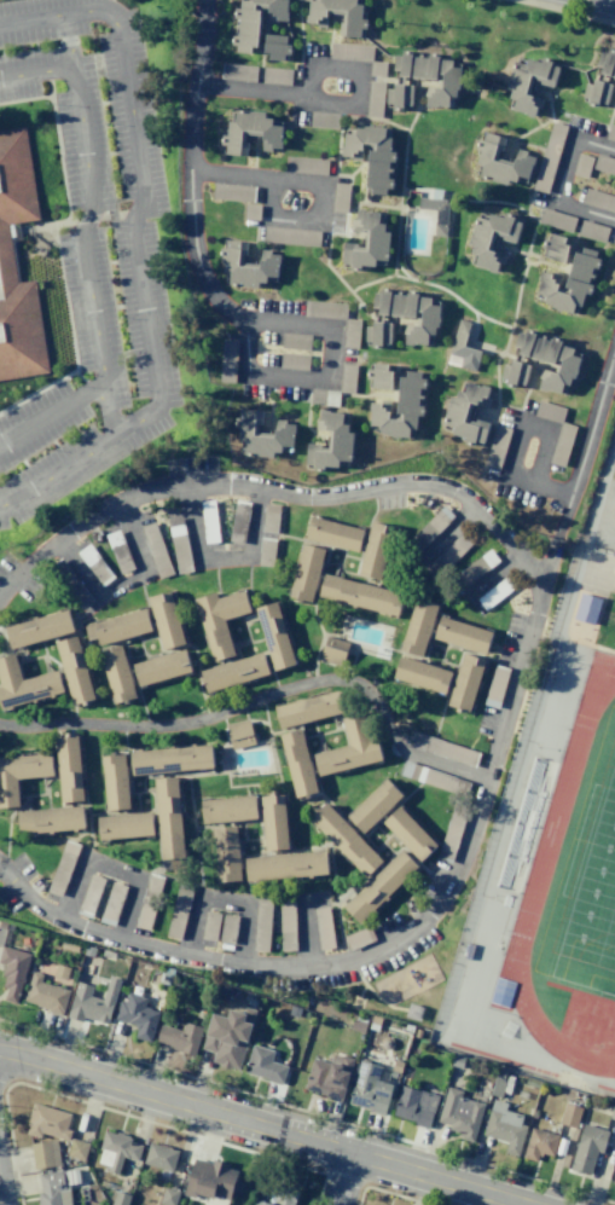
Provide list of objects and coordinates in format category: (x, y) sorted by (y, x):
building: (338, 16)
road: (592, 17)
building: (256, 21)
road: (65, 41)
road: (329, 44)
building: (278, 47)
building: (349, 52)
building: (607, 63)
road: (336, 68)
building: (376, 68)
building: (237, 73)
building: (275, 75)
road: (295, 76)
building: (433, 76)
road: (304, 79)
road: (610, 81)
road: (419, 83)
building: (530, 83)
building: (598, 93)
road: (277, 95)
building: (400, 97)
building: (373, 98)
road: (418, 109)
road: (358, 111)
building: (323, 120)
road: (382, 120)
road: (608, 123)
road: (539, 127)
building: (253, 133)
building: (610, 133)
road: (530, 145)
road: (547, 149)
building: (370, 155)
building: (547, 157)
road: (254, 160)
building: (501, 163)
building: (304, 164)
building: (604, 164)
building: (581, 166)
road: (356, 169)
road: (187, 172)
road: (255, 178)
road: (330, 180)
road: (558, 180)
building: (232, 192)
building: (340, 197)
road: (541, 198)
building: (598, 201)
road: (505, 203)
road: (371, 204)
building: (436, 213)
building: (555, 220)
road: (294, 221)
road: (325, 230)
building: (591, 231)
road: (256, 233)
building: (291, 236)
road: (532, 237)
building: (491, 239)
building: (370, 243)
road: (134, 244)
building: (557, 248)
road: (83, 249)
parking lot: (92, 249)
road: (511, 251)
road: (532, 253)
building: (6, 254)
road: (568, 266)
building: (250, 267)
building: (572, 285)
building: (324, 309)
building: (410, 314)
road: (248, 320)
building: (350, 332)
building: (379, 334)
building: (295, 341)
building: (468, 347)
road: (501, 349)
road: (501, 353)
building: (550, 359)
building: (226, 360)
building: (292, 361)
road: (536, 366)
building: (516, 375)
building: (346, 377)
building: (381, 377)
road: (309, 388)
building: (323, 396)
road: (335, 396)
road: (269, 402)
road: (394, 402)
road: (522, 407)
road: (108, 409)
building: (402, 409)
building: (547, 411)
building: (468, 415)
road: (536, 428)
building: (263, 436)
building: (333, 442)
building: (561, 444)
building: (495, 446)
road: (576, 456)
road: (543, 459)
road: (507, 479)
building: (268, 517)
building: (210, 521)
building: (238, 521)
building: (429, 529)
road: (446, 532)
building: (333, 534)
building: (178, 545)
building: (155, 550)
building: (117, 551)
building: (375, 551)
building: (265, 552)
building: (448, 555)
road: (221, 557)
building: (93, 564)
building: (475, 567)
building: (304, 573)
road: (493, 573)
road: (122, 581)
building: (497, 592)
building: (358, 593)
building: (586, 608)
building: (166, 620)
building: (219, 620)
building: (117, 627)
building: (417, 627)
building: (37, 628)
building: (462, 635)
building: (273, 636)
building: (332, 651)
building: (161, 667)
building: (74, 670)
building: (233, 672)
building: (117, 674)
building: (420, 674)
road: (514, 677)
building: (465, 682)
building: (24, 684)
building: (494, 685)
road: (262, 701)
building: (309, 708)
building: (239, 734)
building: (348, 748)
building: (441, 748)
building: (170, 759)
building: (297, 763)
building: (68, 769)
building: (21, 774)
building: (433, 777)
building: (114, 782)
building: (373, 806)
building: (228, 810)
building: (50, 821)
building: (273, 822)
building: (169, 824)
building: (521, 824)
building: (124, 825)
building: (408, 833)
track: (550, 834)
building: (449, 838)
building: (343, 840)
building: (226, 854)
road: (110, 867)
building: (285, 867)
building: (62, 868)
building: (378, 886)
building: (89, 896)
building: (147, 900)
road: (226, 900)
building: (111, 903)
building: (178, 909)
park: (593, 910)
building: (285, 920)
building: (261, 923)
building: (209, 926)
building: (227, 928)
building: (323, 928)
road: (304, 931)
building: (359, 938)
building: (12, 972)
building: (45, 995)
building: (92, 1002)
building: (137, 1015)
building: (227, 1036)
building: (179, 1037)
building: (263, 1065)
building: (329, 1076)
building: (369, 1088)
building: (414, 1106)
building: (459, 1113)
building: (569, 1114)
building: (47, 1122)
road: (260, 1128)
building: (505, 1128)
building: (539, 1143)
building: (587, 1147)
building: (76, 1148)
building: (116, 1149)
building: (43, 1154)
building: (159, 1155)
road: (261, 1170)
building: (209, 1180)
road: (347, 1181)
building: (614, 1182)
building: (54, 1187)
road: (1, 1197)
building: (120, 1198)
building: (261, 1203)

